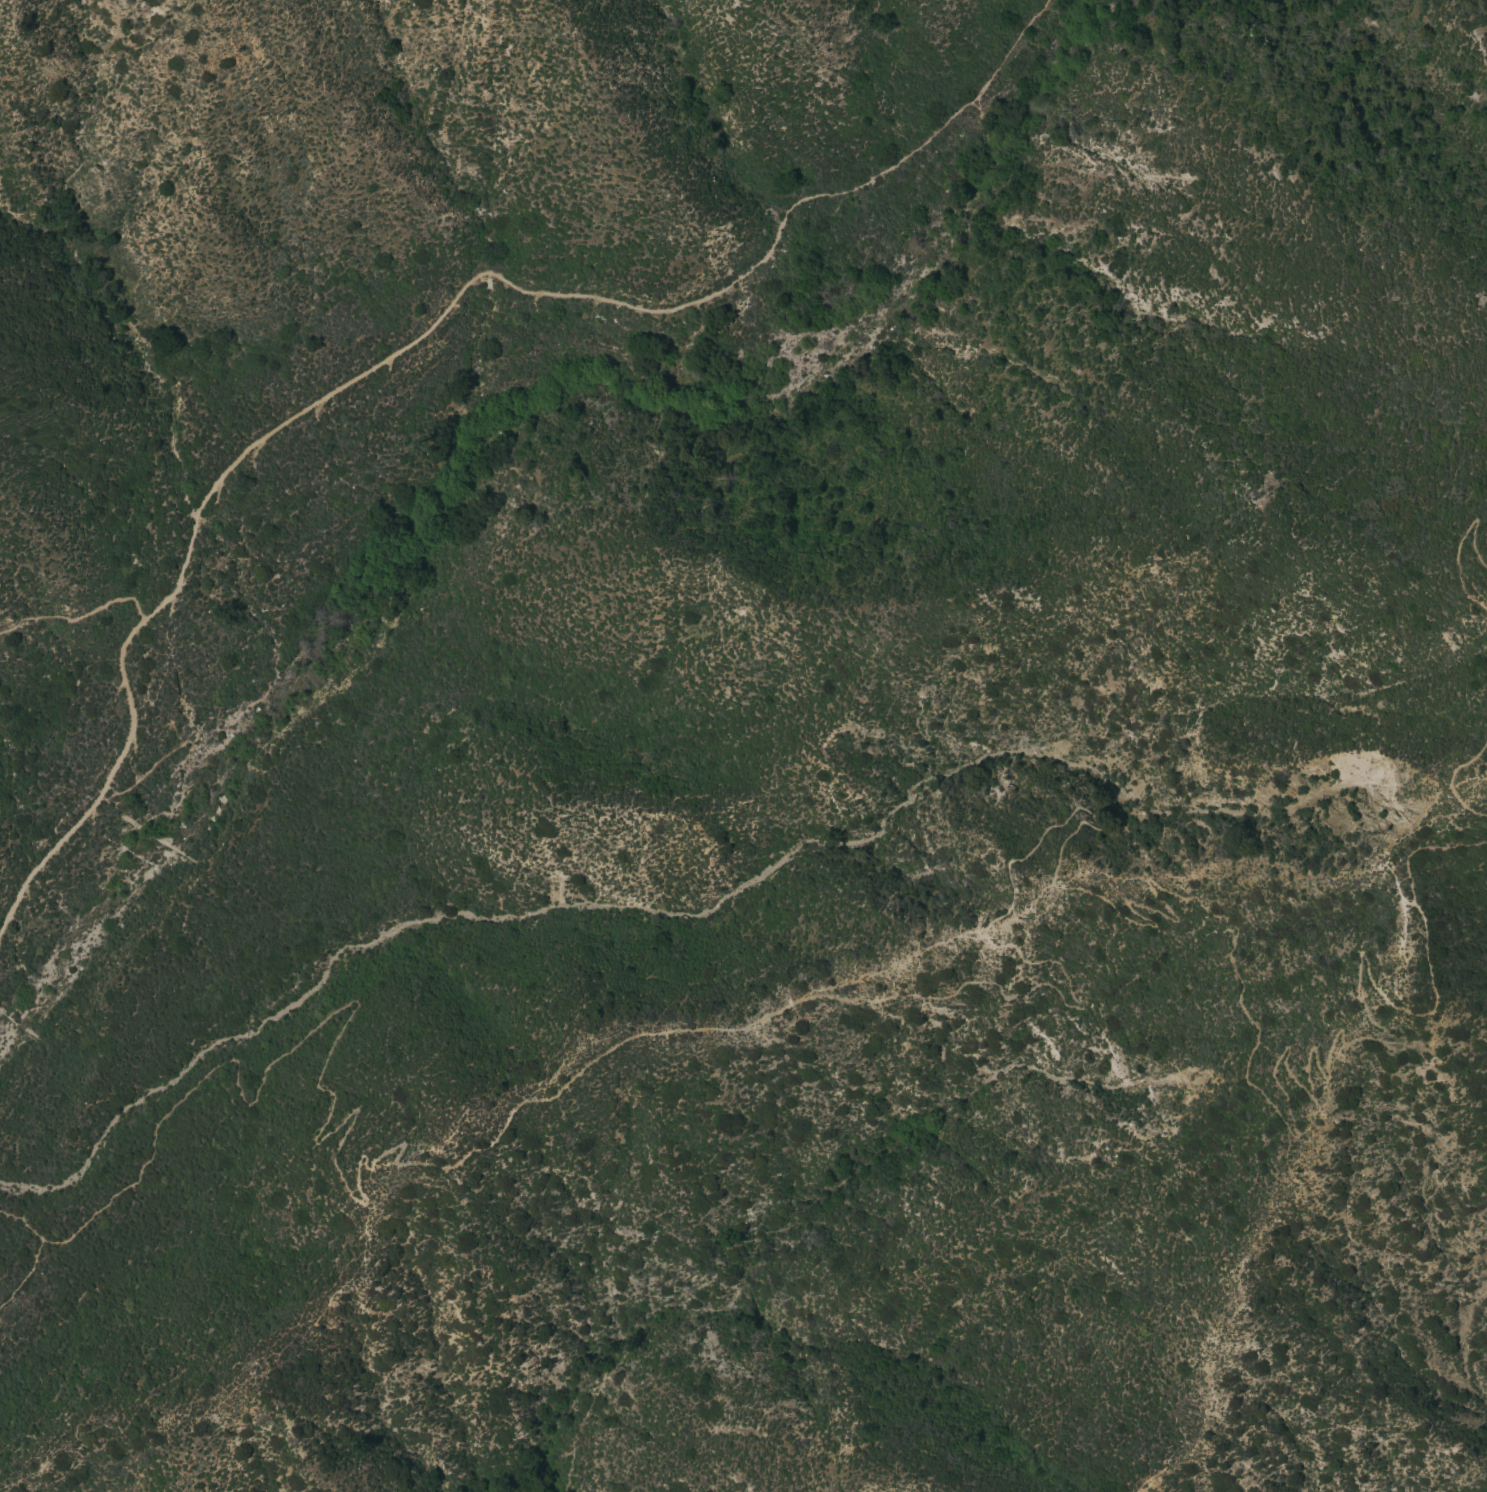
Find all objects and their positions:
road: (418, 325)
road: (1456, 549)
road: (77, 616)
road: (1455, 778)
road: (1068, 990)
road: (25, 1273)

